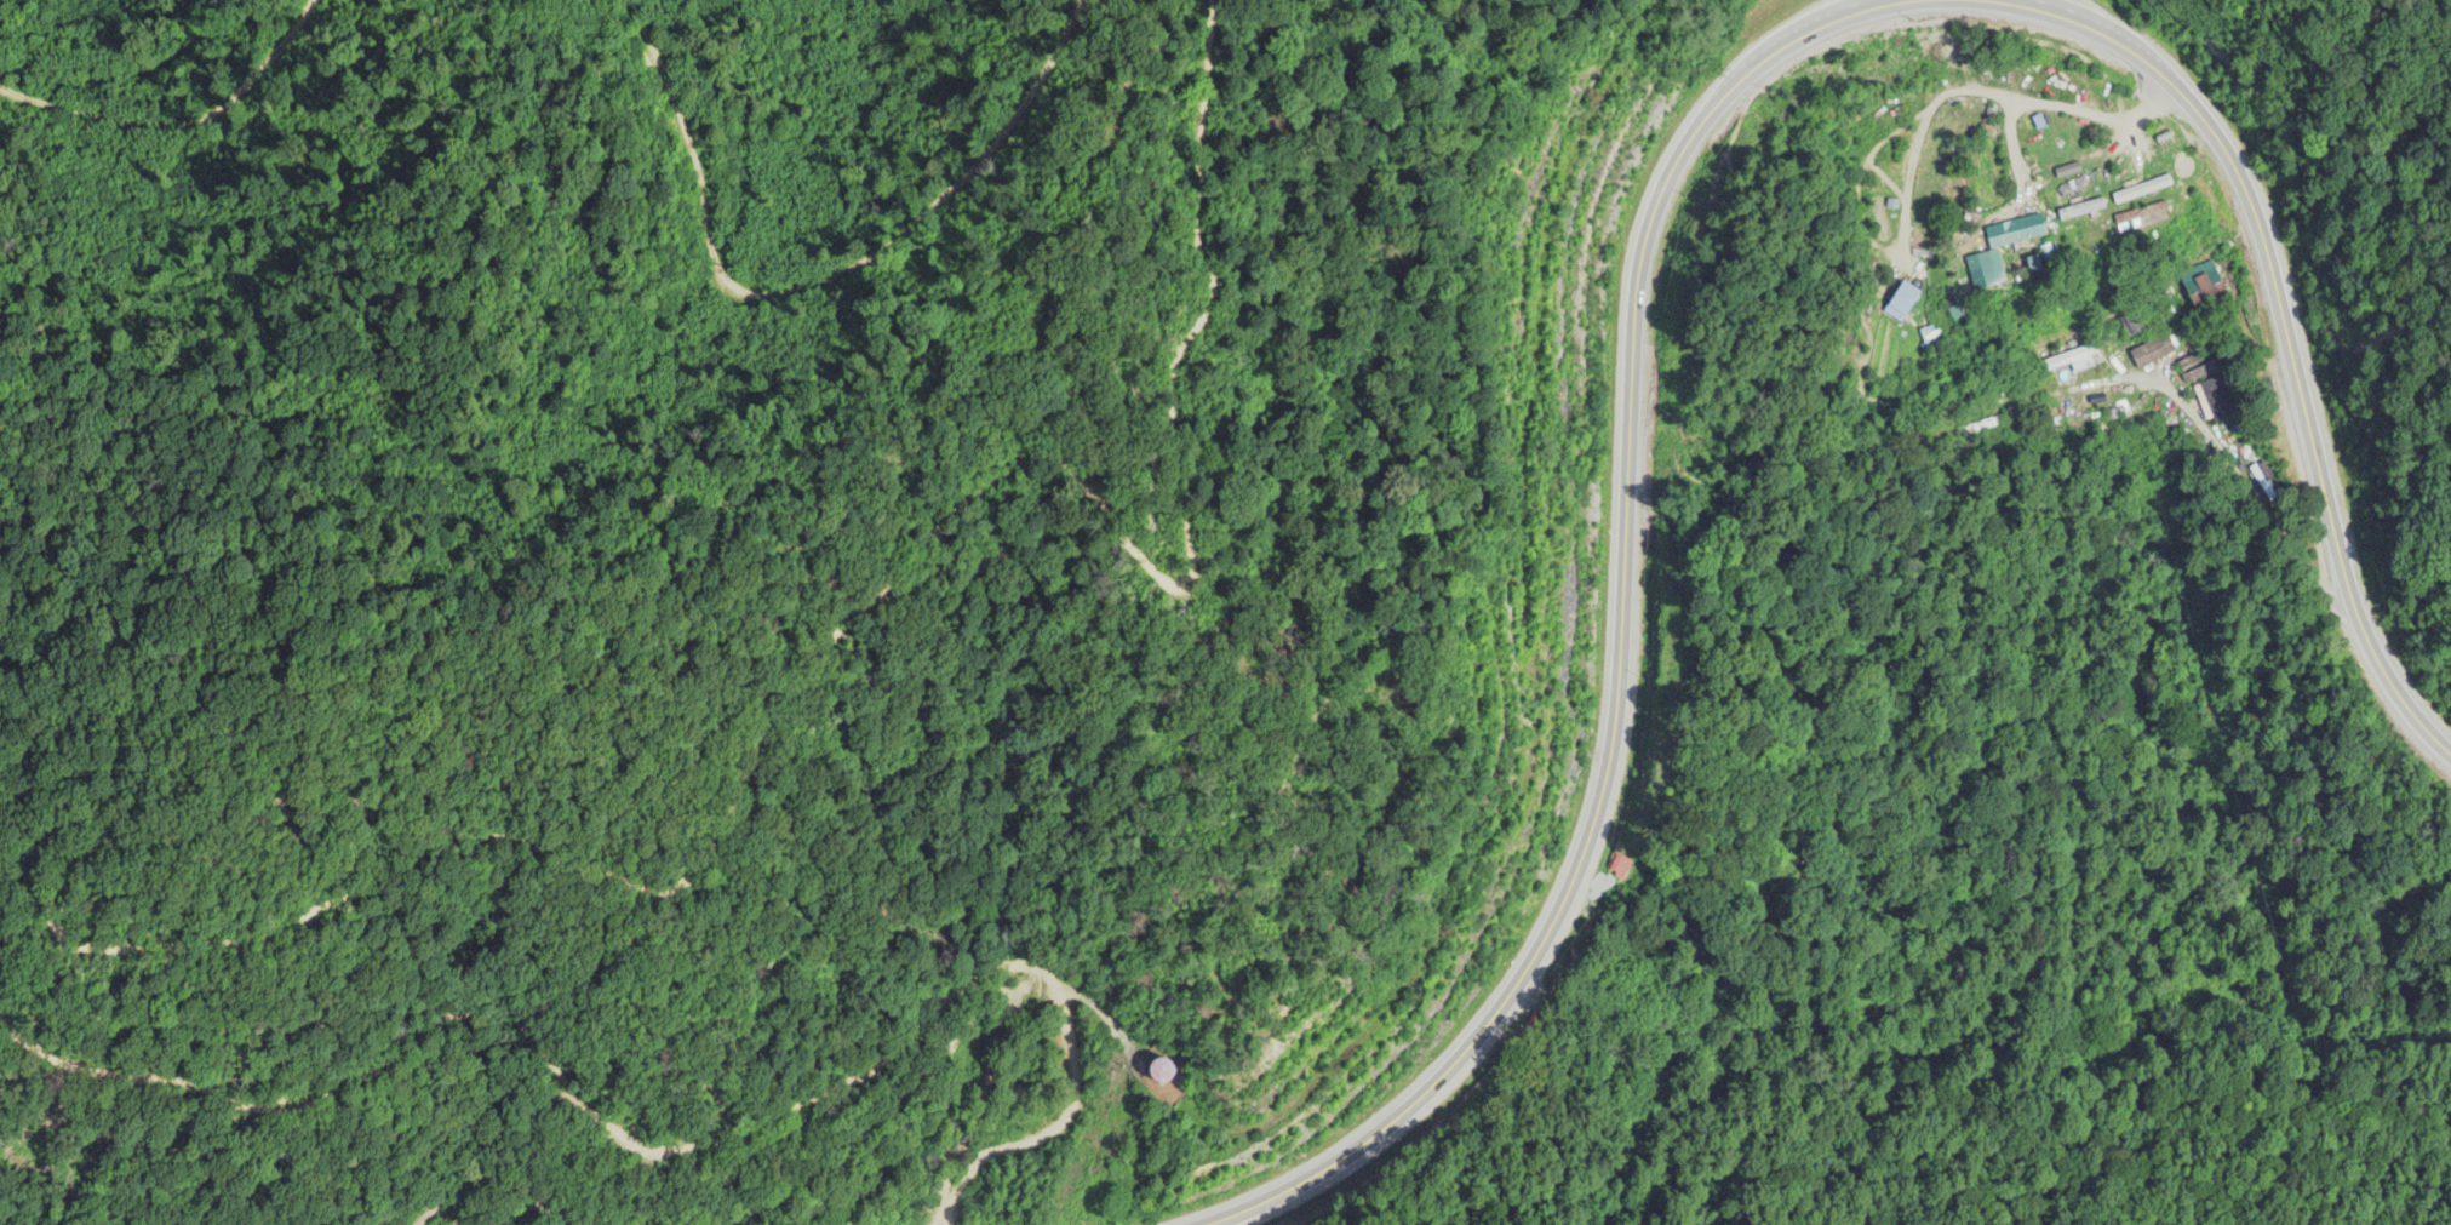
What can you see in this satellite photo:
road: (1865, 5)
road: (1983, 95)
road: (2009, 155)
building: (2031, 165)
building: (2065, 171)
building: (2142, 190)
building: (2081, 210)
building: (2141, 214)
building: (1890, 235)
building: (1986, 270)
building: (2203, 285)
building: (1899, 299)
building: (2134, 324)
road: (2287, 332)
building: (2152, 353)
building: (2072, 361)
building: (2209, 388)
building: (1991, 417)
road: (1035, 482)
road: (2252, 492)
road: (1622, 636)
building: (1620, 870)
road: (536, 1041)
building: (1162, 1075)

